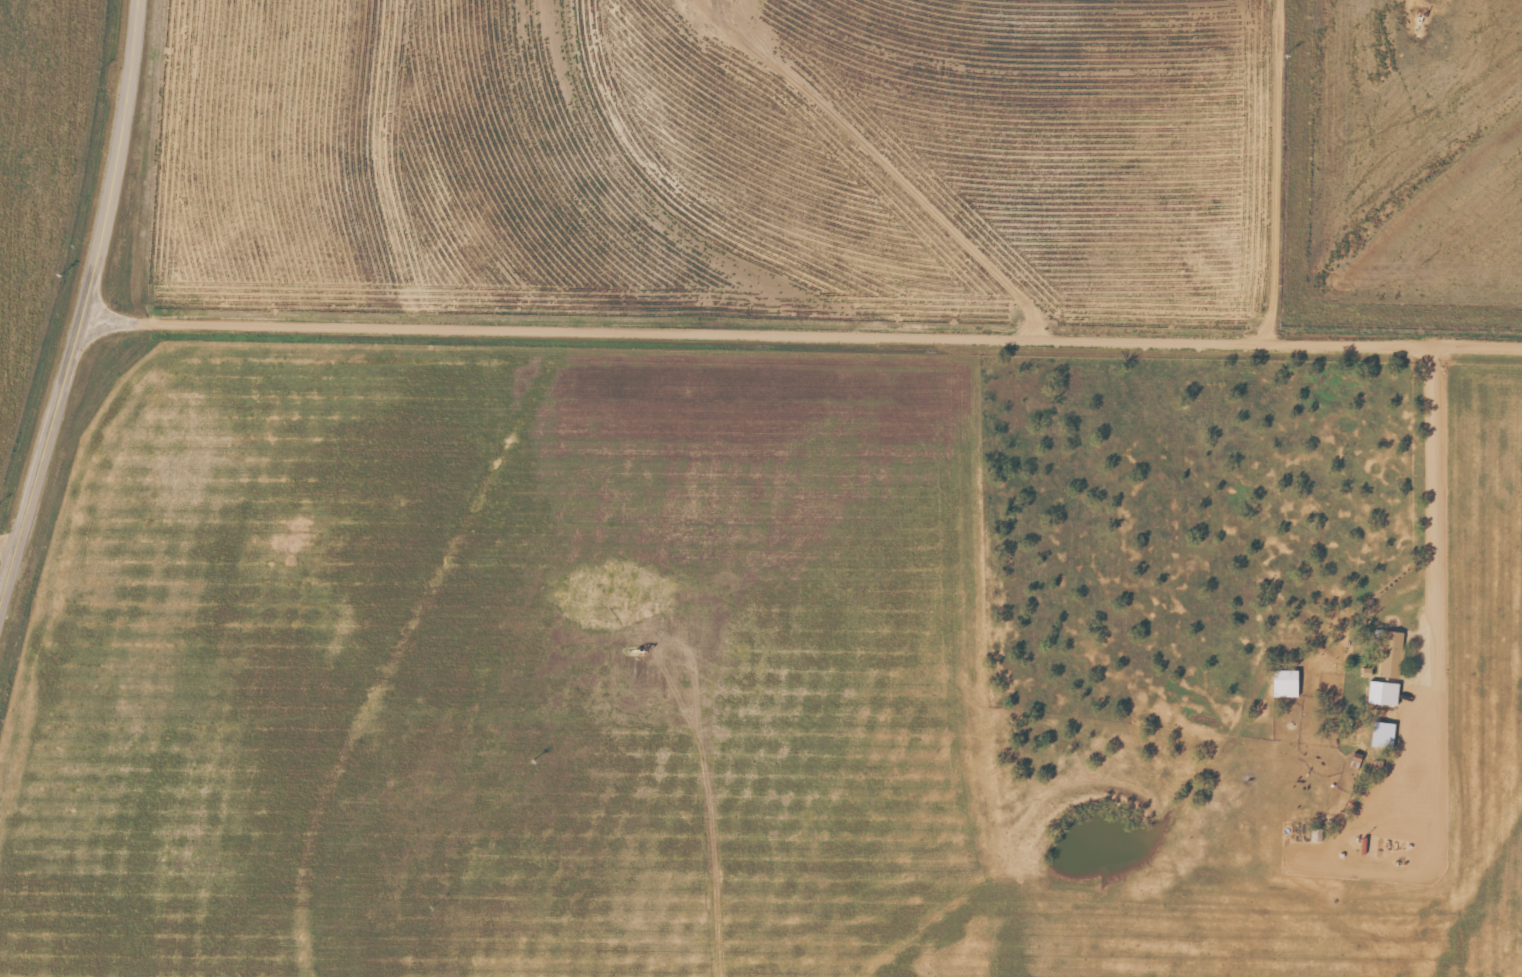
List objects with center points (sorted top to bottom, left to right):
road: (85, 307)
road: (803, 330)
road: (589, 418)
building: (1285, 684)
building: (1383, 692)
road: (1471, 696)
building: (1383, 734)

